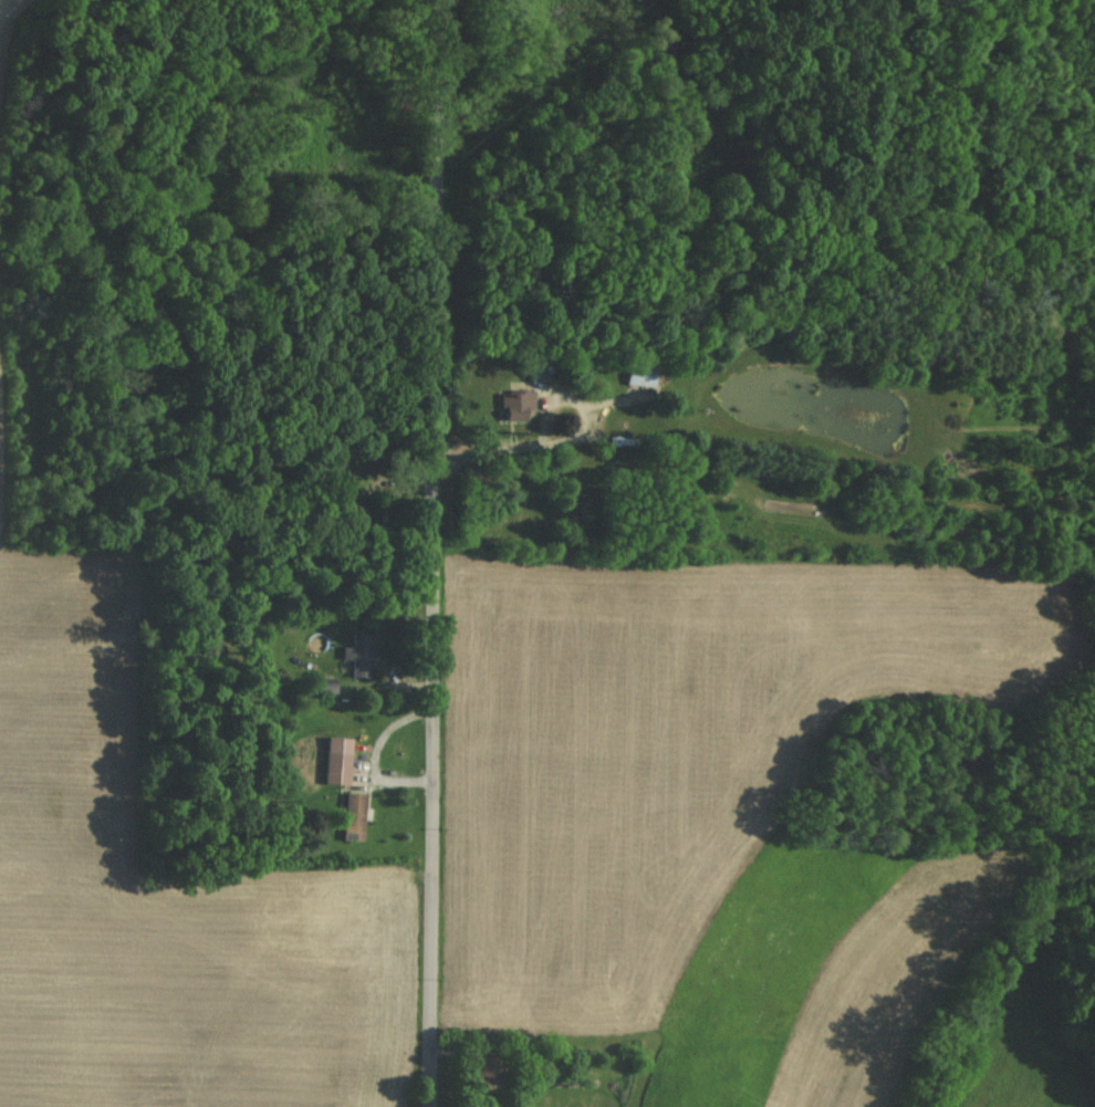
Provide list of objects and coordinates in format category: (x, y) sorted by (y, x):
building: (529, 368)
building: (639, 376)
building: (517, 404)
road: (430, 553)
building: (359, 656)
building: (319, 688)
building: (337, 761)
building: (354, 816)
building: (488, 1075)

